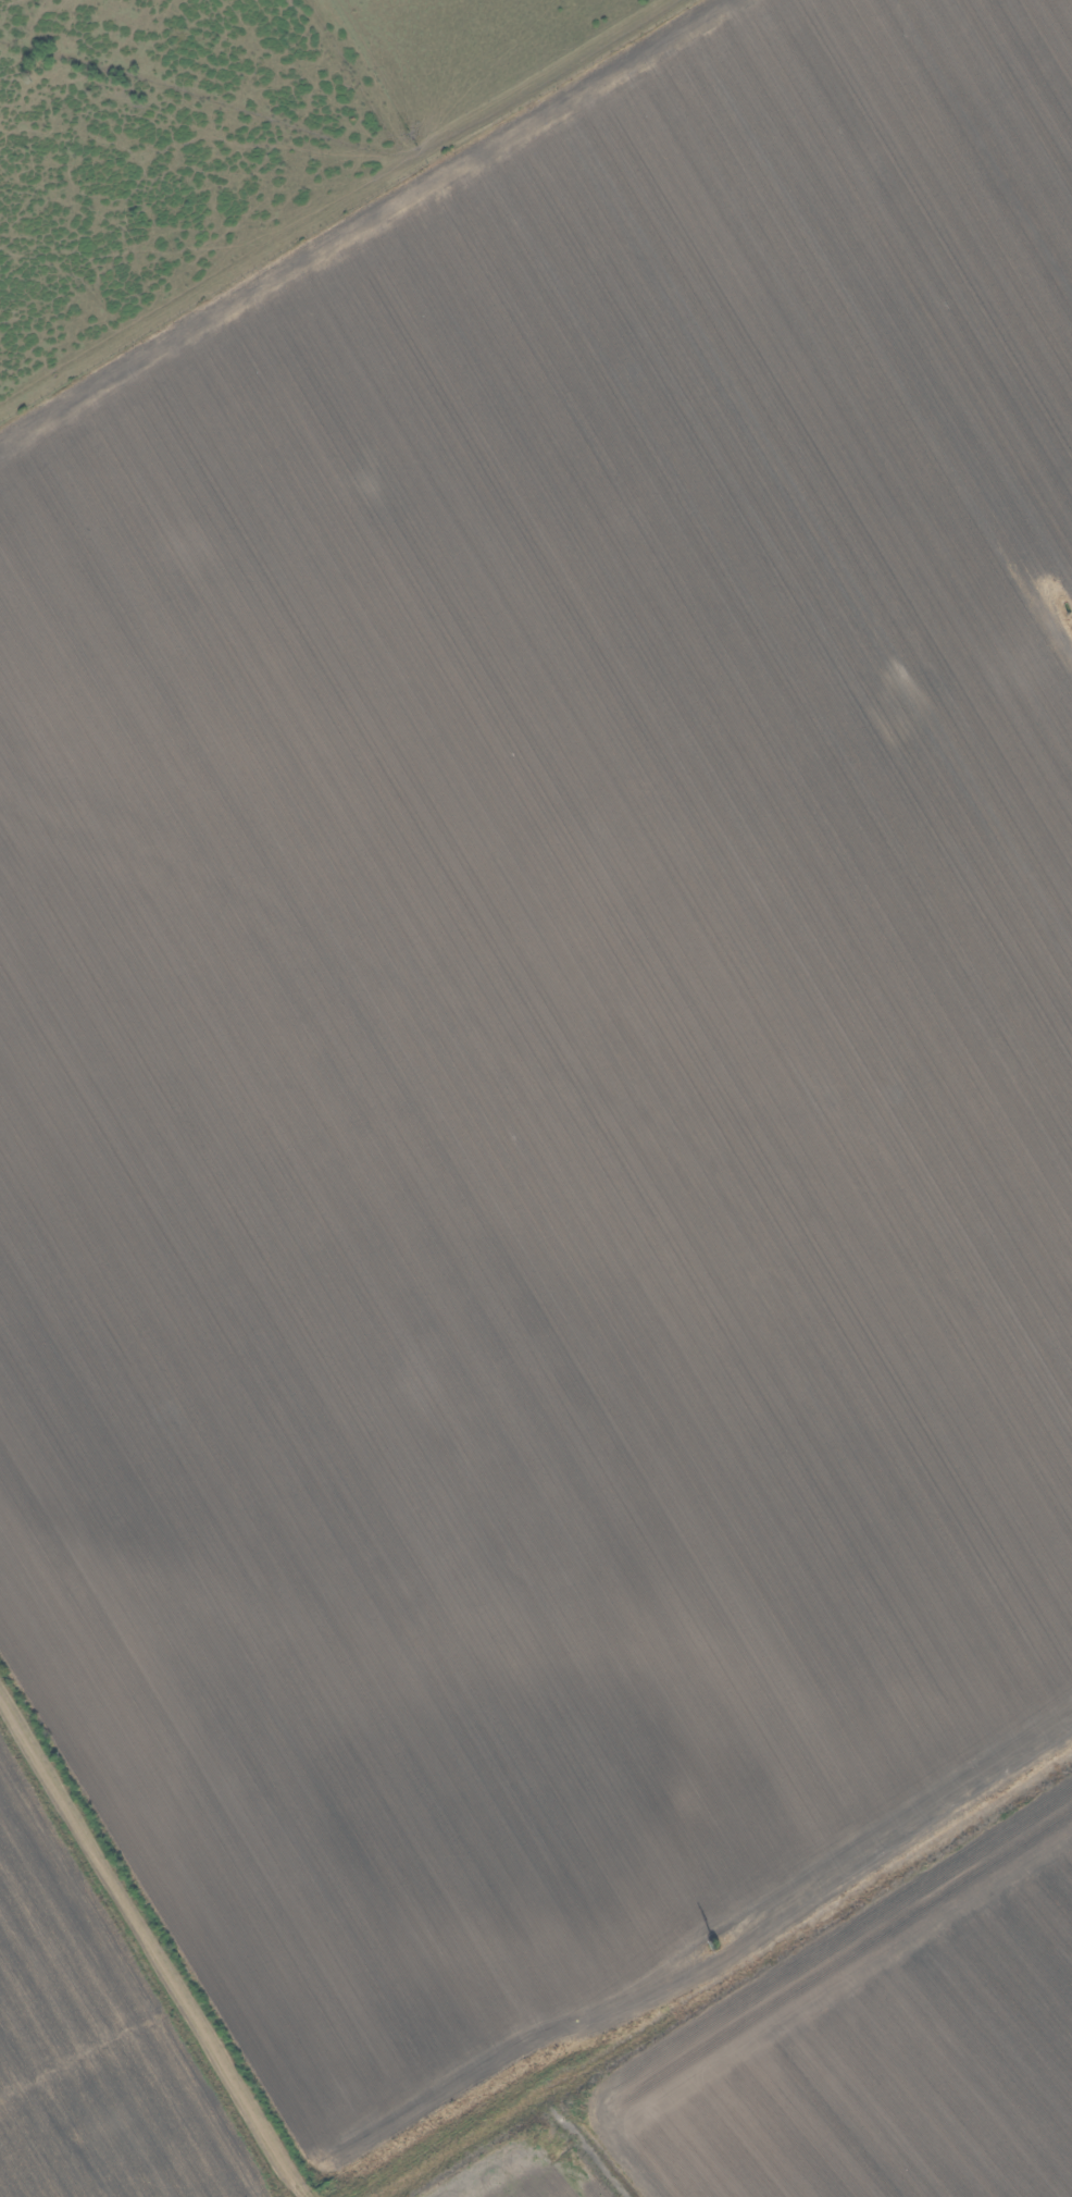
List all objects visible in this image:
power tower: (712, 1946)

